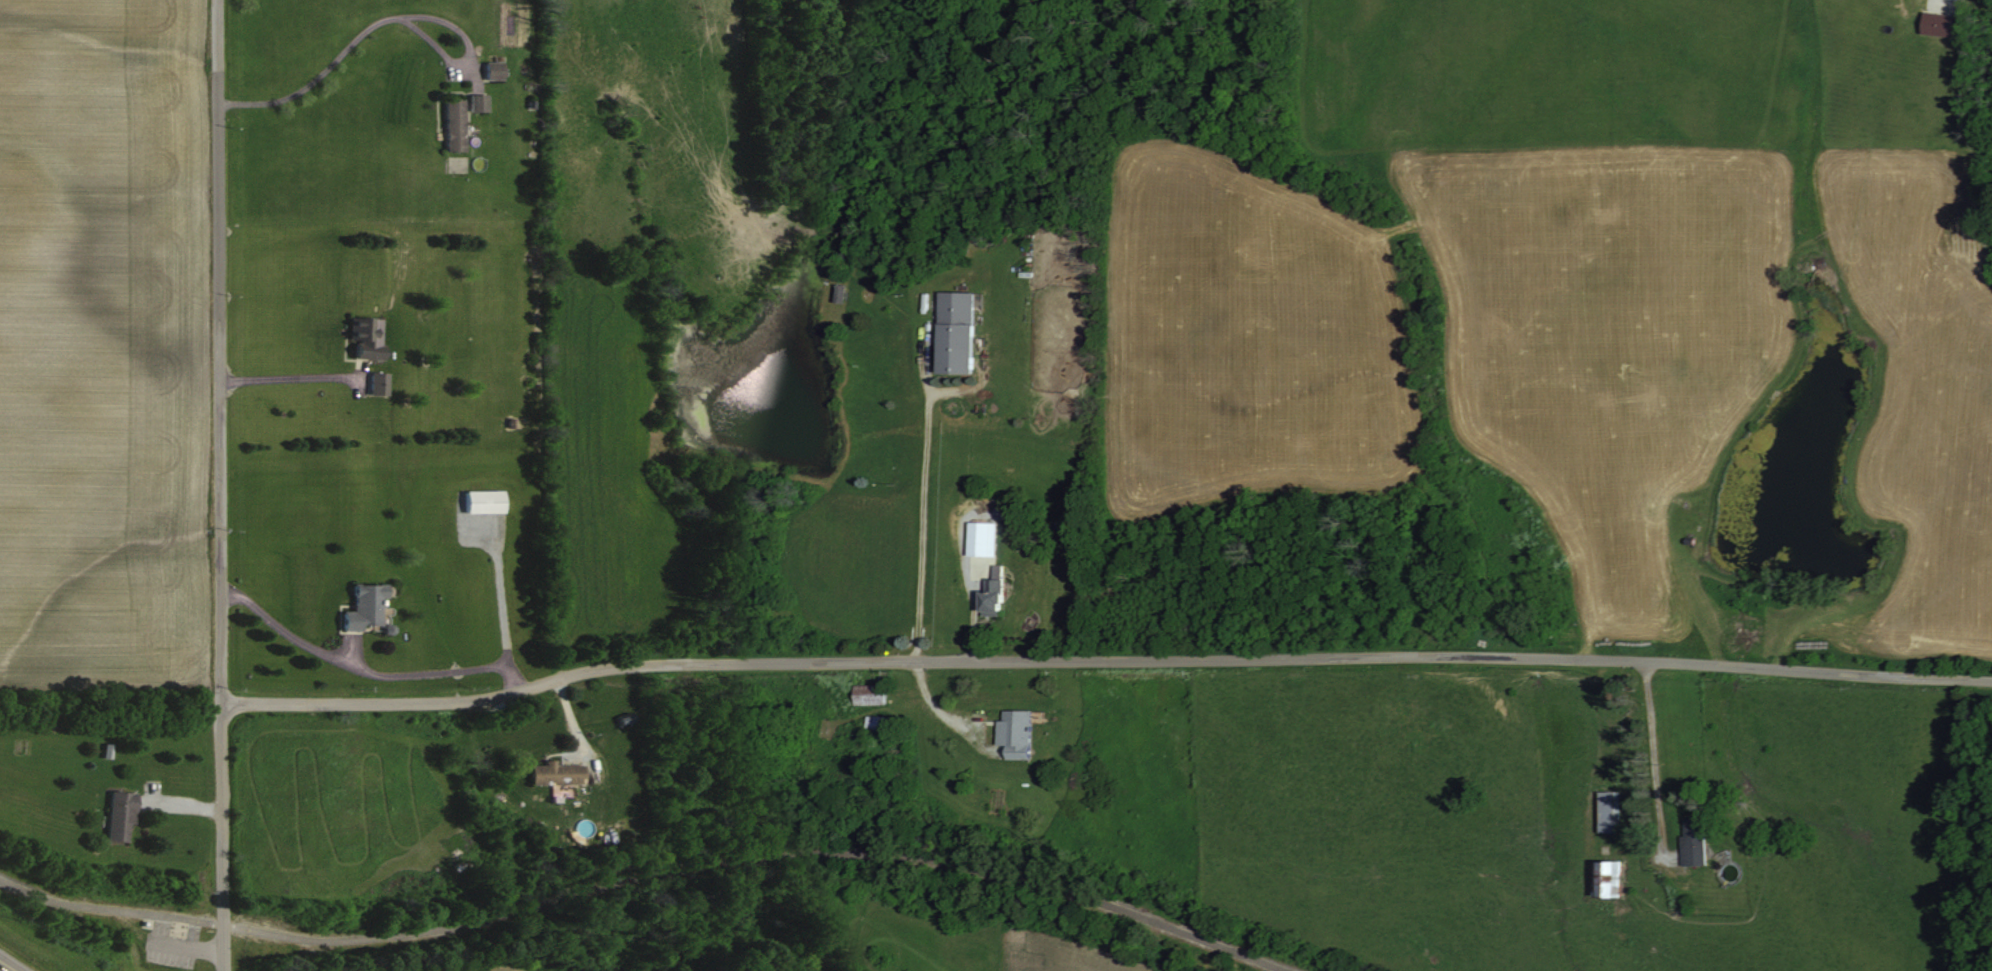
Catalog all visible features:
road: (385, 14)
building: (1935, 23)
building: (497, 69)
building: (480, 102)
building: (456, 125)
building: (963, 332)
building: (370, 338)
road: (287, 373)
building: (381, 383)
road: (217, 485)
building: (486, 501)
road: (922, 530)
building: (988, 538)
road: (500, 588)
building: (1000, 592)
building: (366, 606)
road: (1103, 658)
road: (367, 668)
building: (875, 695)
building: (880, 724)
building: (1022, 733)
road: (1655, 766)
building: (559, 775)
building: (1607, 810)
building: (123, 814)
building: (1692, 841)
road: (646, 873)
building: (1616, 879)
road: (179, 920)
parking lot: (172, 943)
road: (185, 945)
road: (6, 966)

